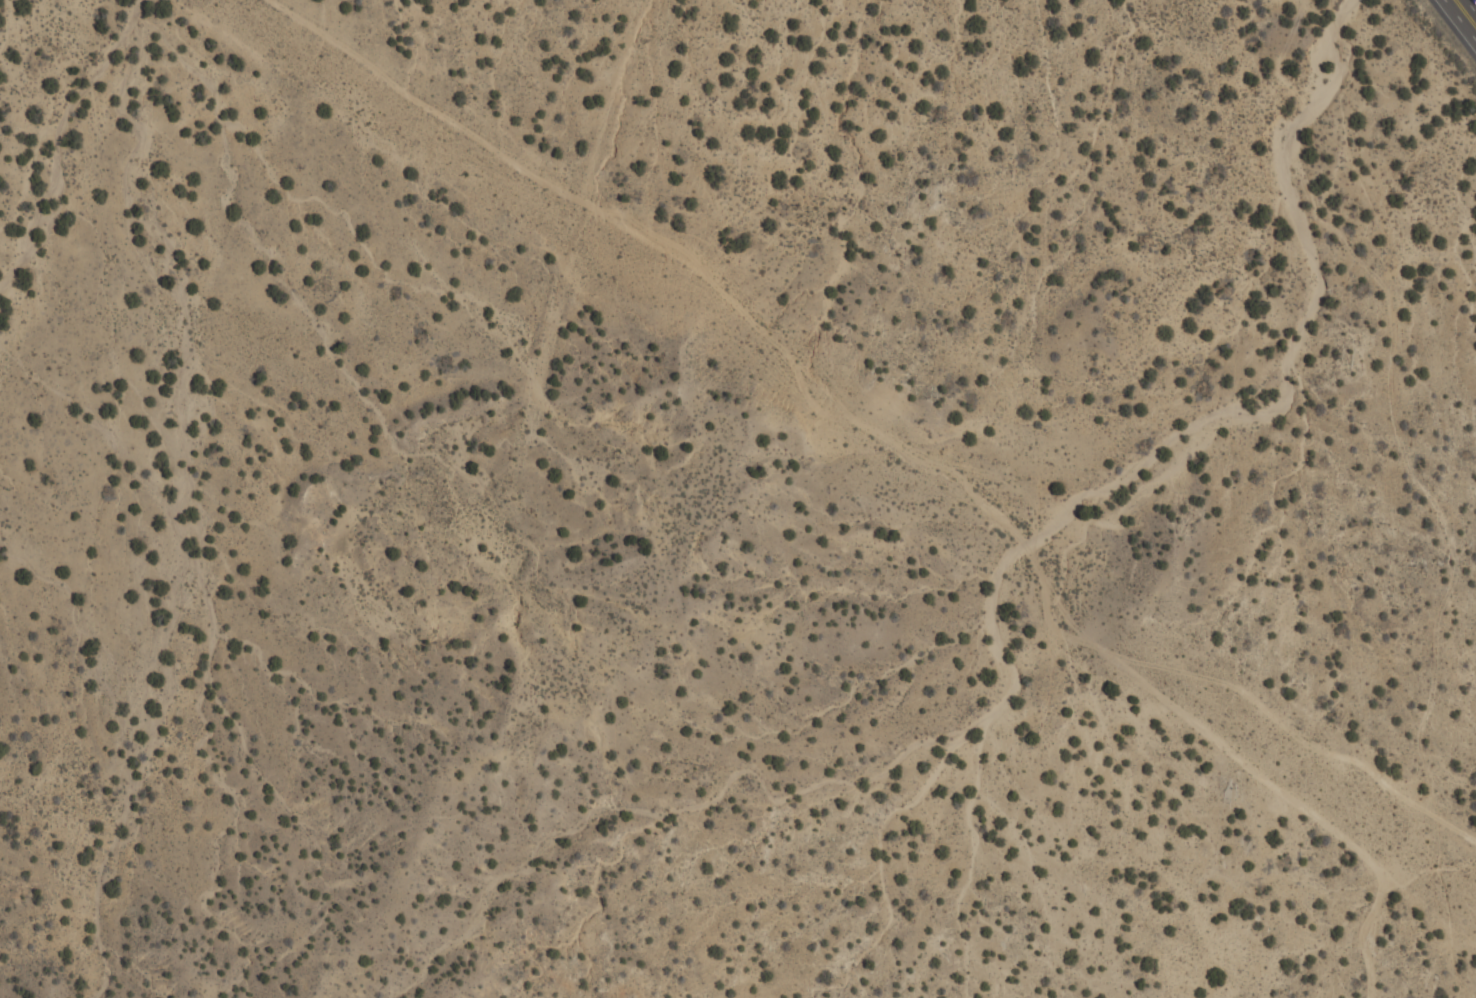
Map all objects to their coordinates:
road: (1468, 9)
road: (1458, 22)

